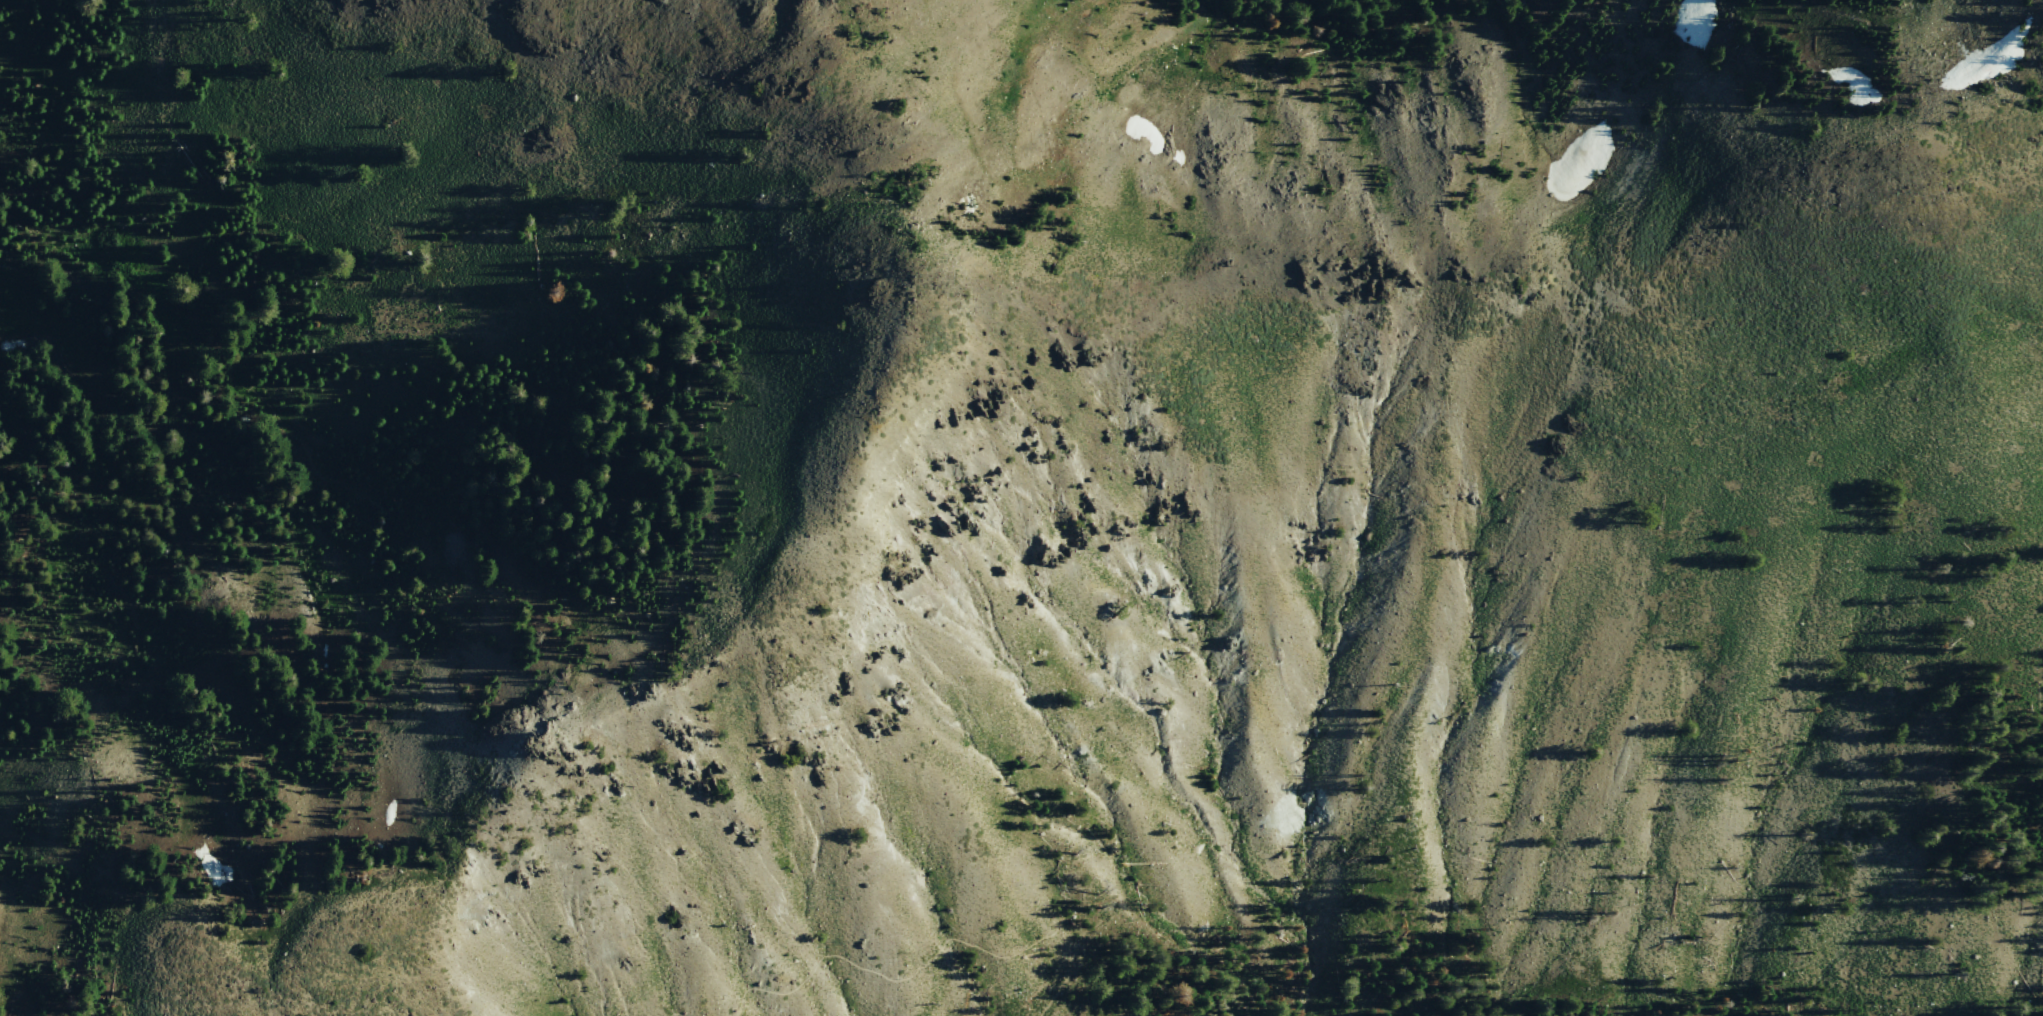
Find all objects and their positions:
road: (979, 947)

